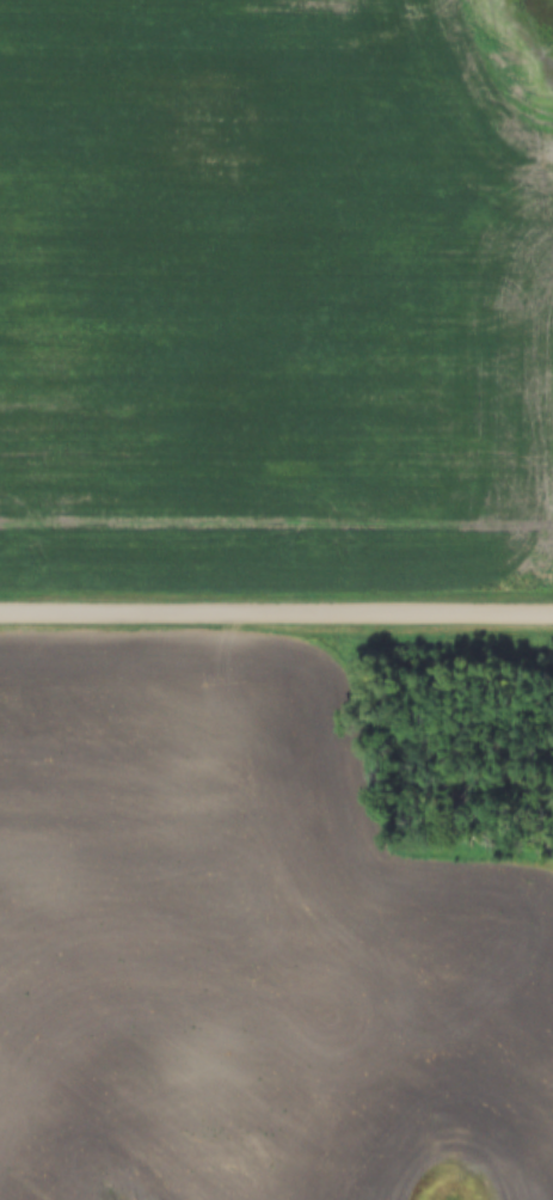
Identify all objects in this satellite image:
road: (276, 617)

